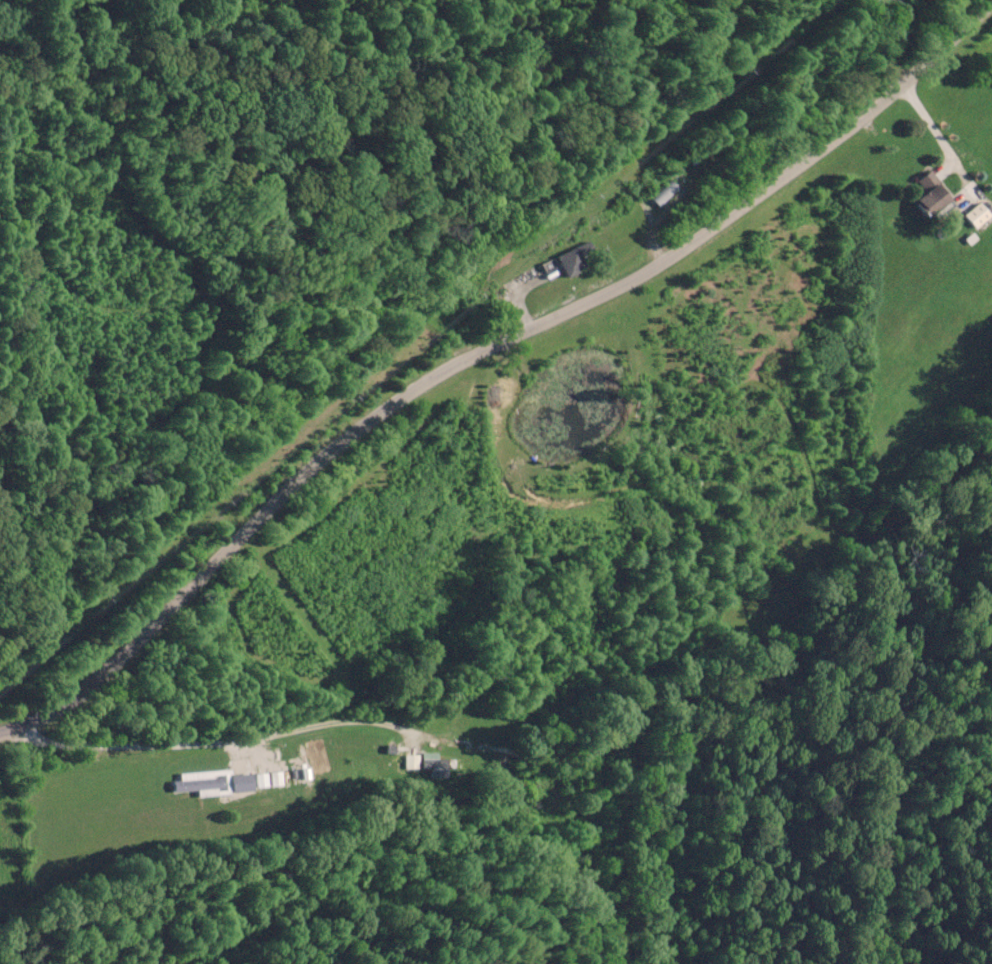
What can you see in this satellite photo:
building: (663, 191)
building: (933, 198)
building: (976, 214)
building: (575, 258)
road: (482, 350)
road: (291, 727)
building: (314, 759)
building: (426, 764)
building: (213, 782)
road: (535, 815)

